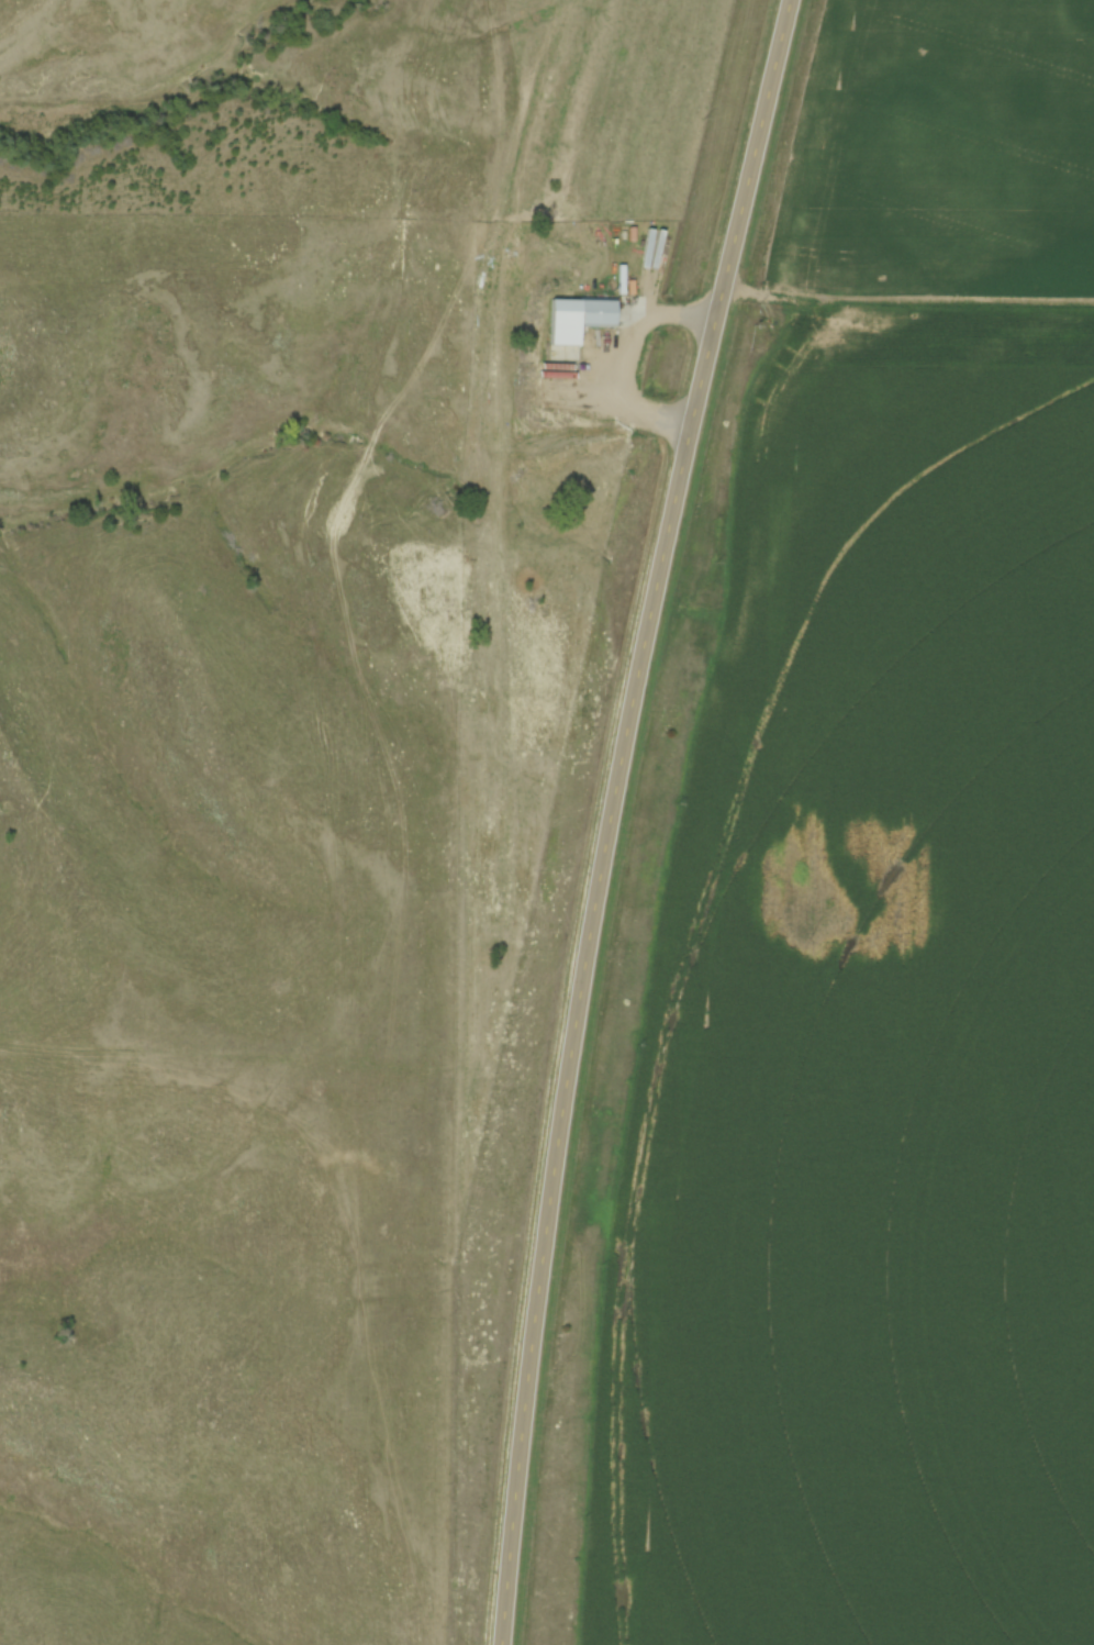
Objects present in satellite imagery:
building: (596, 313)
road: (605, 815)

